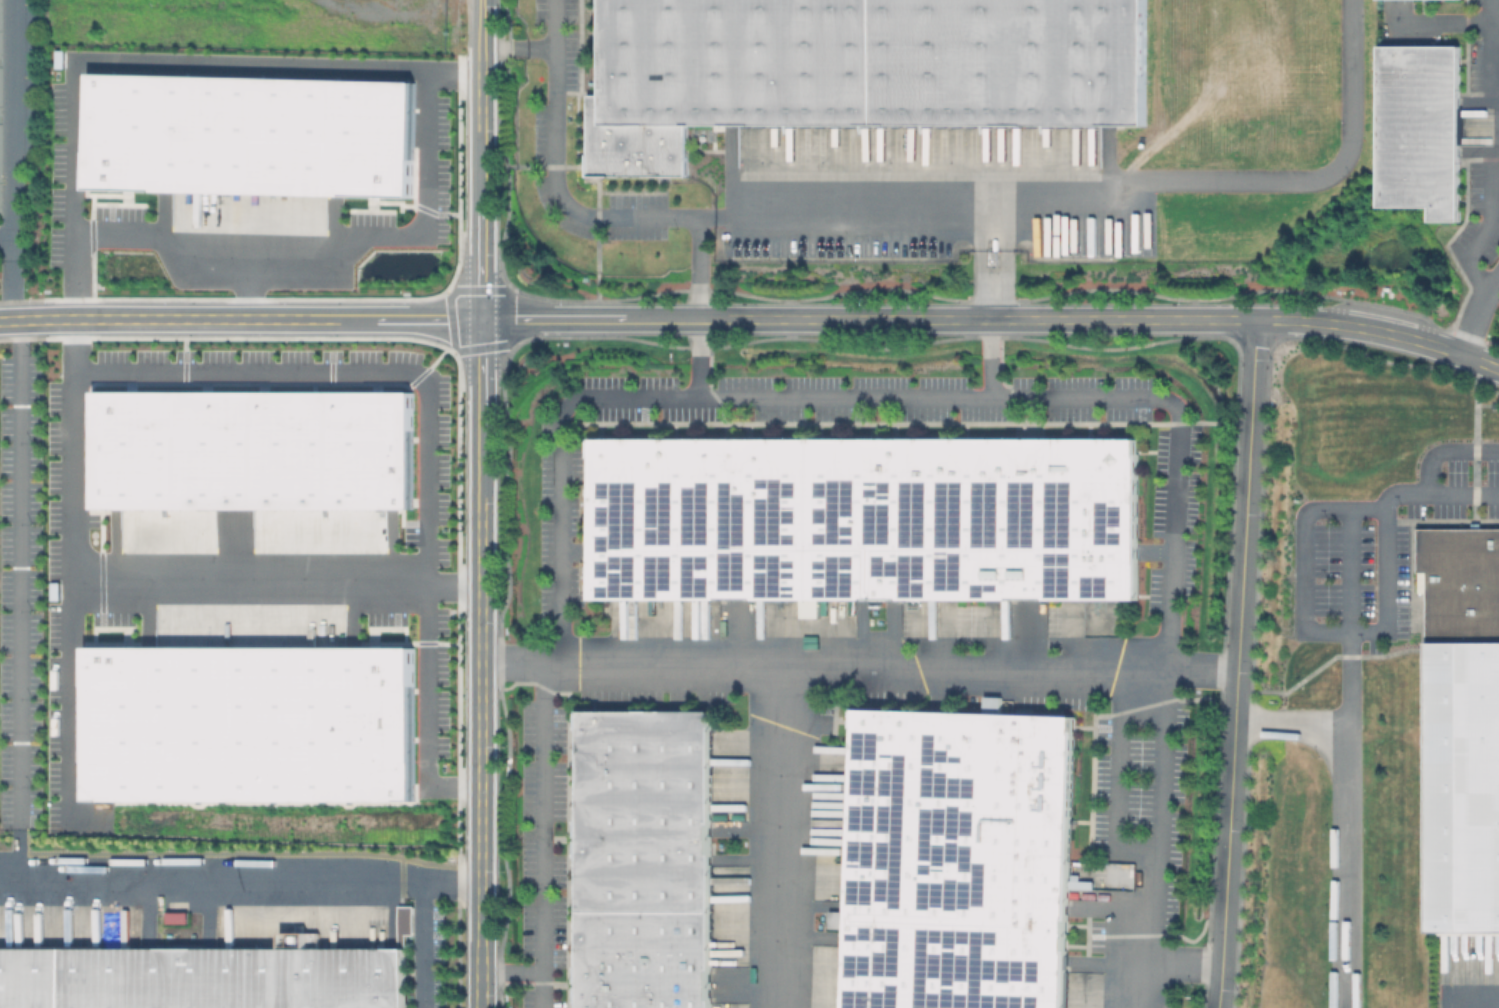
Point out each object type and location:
road: (481, 25)
road: (1492, 31)
road: (517, 49)
road: (1485, 60)
road: (152, 62)
building: (855, 70)
building: (1422, 130)
road: (11, 131)
building: (251, 137)
road: (481, 141)
road: (1105, 197)
building: (0, 210)
road: (617, 217)
road: (5, 238)
road: (326, 240)
road: (992, 260)
road: (481, 275)
road: (247, 279)
road: (10, 291)
road: (1476, 314)
road: (36, 319)
road: (277, 319)
road: (535, 319)
road: (1047, 319)
road: (990, 358)
road: (353, 371)
road: (871, 397)
building: (255, 450)
road: (1441, 455)
building: (866, 519)
road: (1296, 551)
road: (1343, 573)
road: (481, 584)
road: (143, 587)
road: (19, 595)
road: (1385, 628)
road: (1237, 663)
road: (1011, 665)
road: (784, 683)
road: (74, 701)
road: (424, 710)
building: (249, 722)
building: (1461, 725)
road: (1116, 781)
road: (542, 835)
road: (1159, 840)
building: (647, 860)
building: (960, 861)
road: (1346, 865)
road: (211, 870)
road: (422, 913)
building: (403, 923)
road: (480, 929)
road: (1177, 964)
road: (511, 973)
building: (200, 977)

